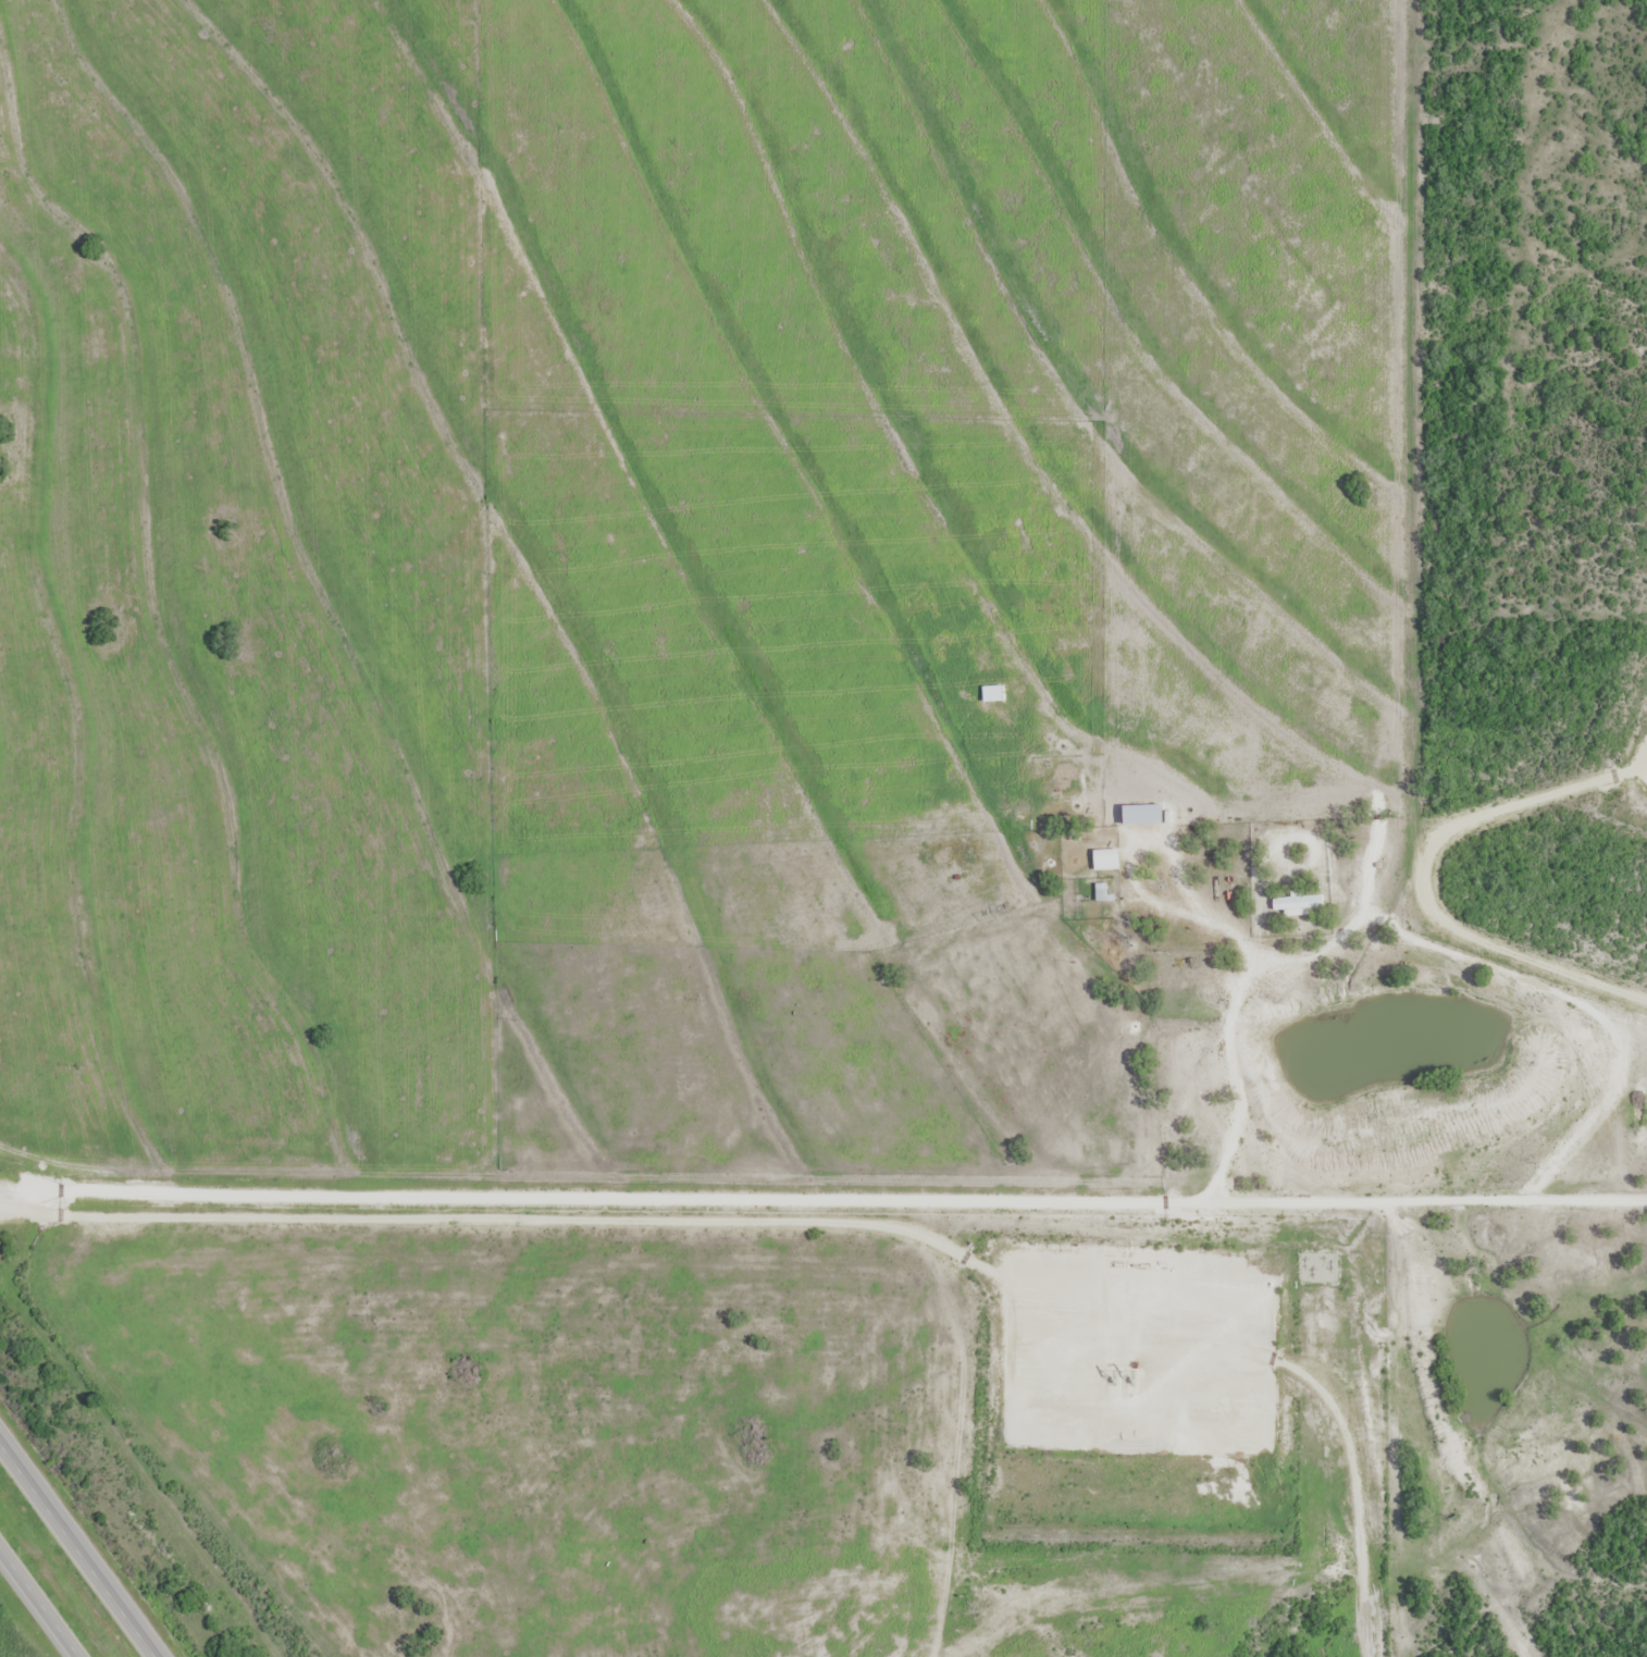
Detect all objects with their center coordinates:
building: (992, 693)
building: (1143, 814)
building: (1106, 858)
building: (1104, 893)
building: (1297, 901)
road: (803, 1201)
road: (1428, 1201)
petroleum well: (1137, 1374)
petroleum well: (1113, 1377)
road: (79, 1547)
road: (41, 1599)

